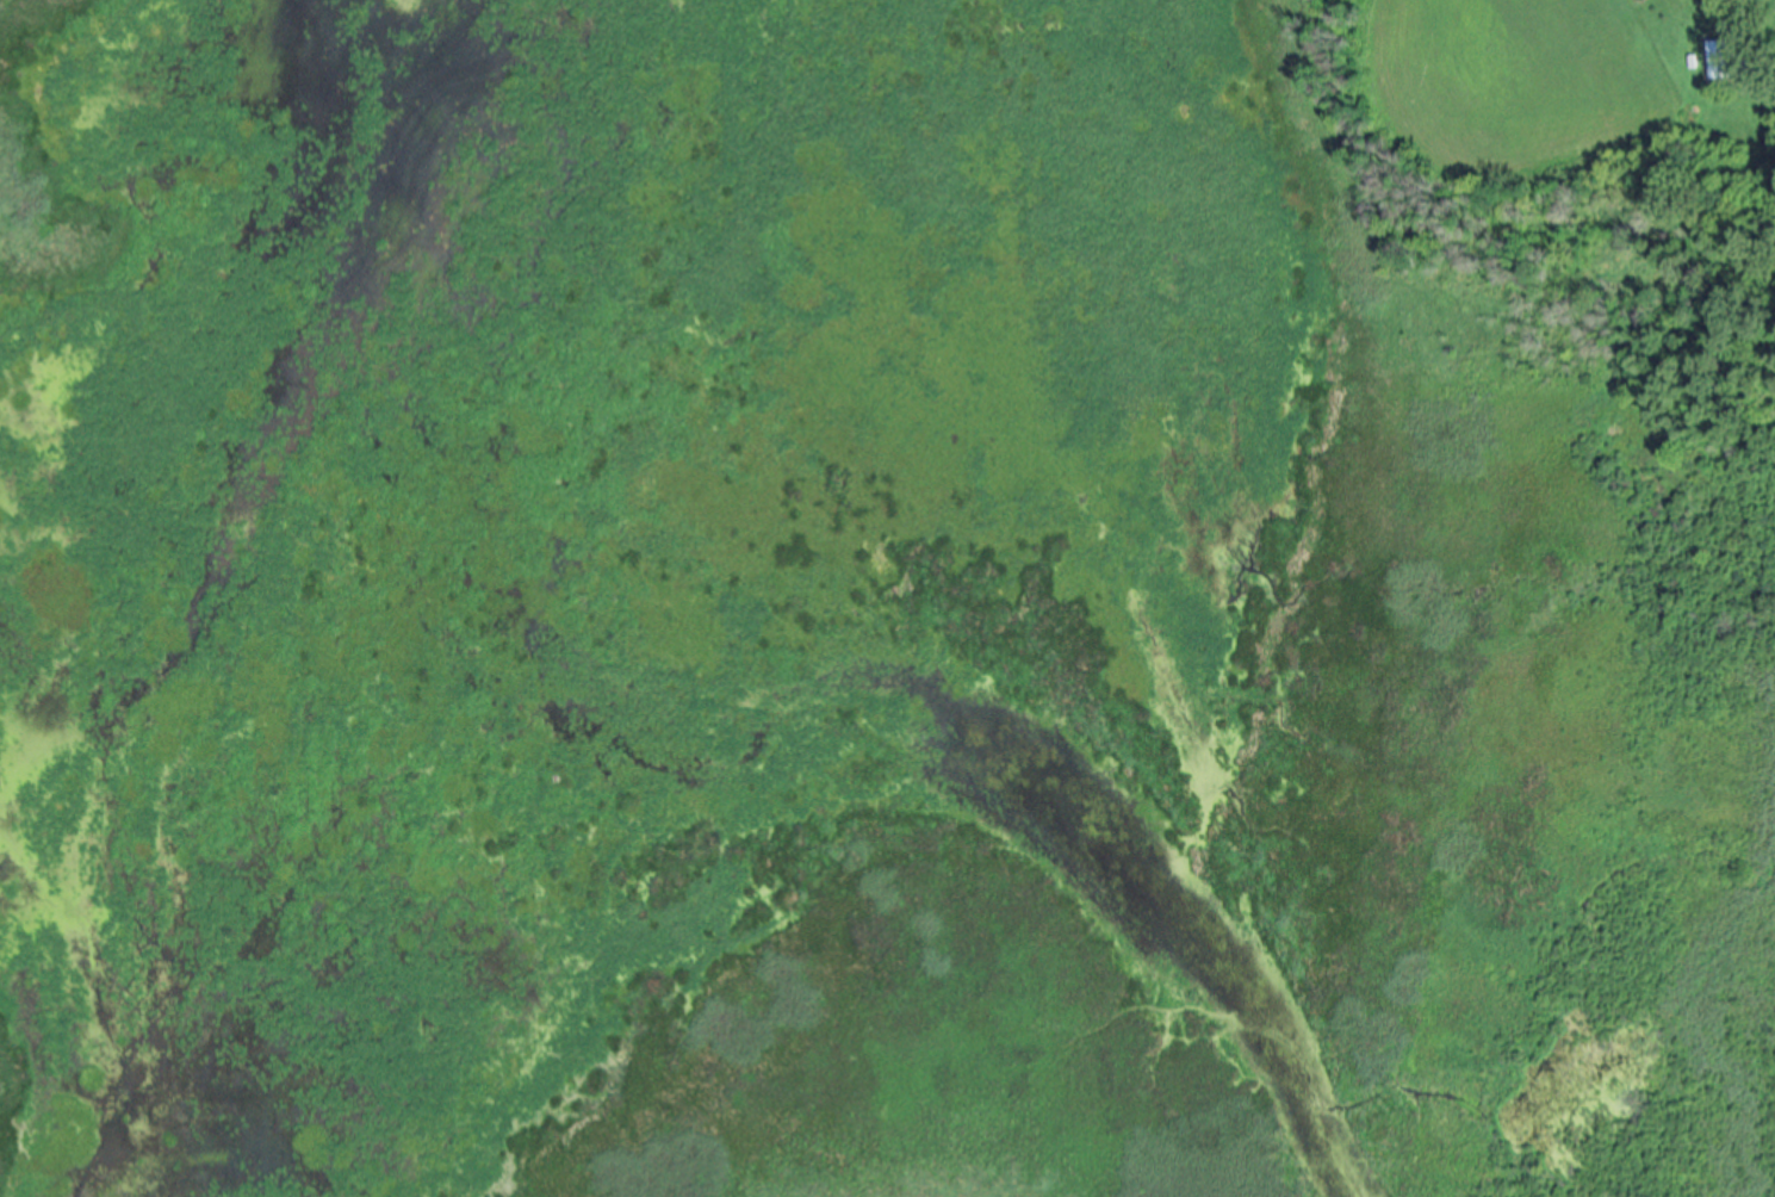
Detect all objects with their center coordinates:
building: (1729, 56)

